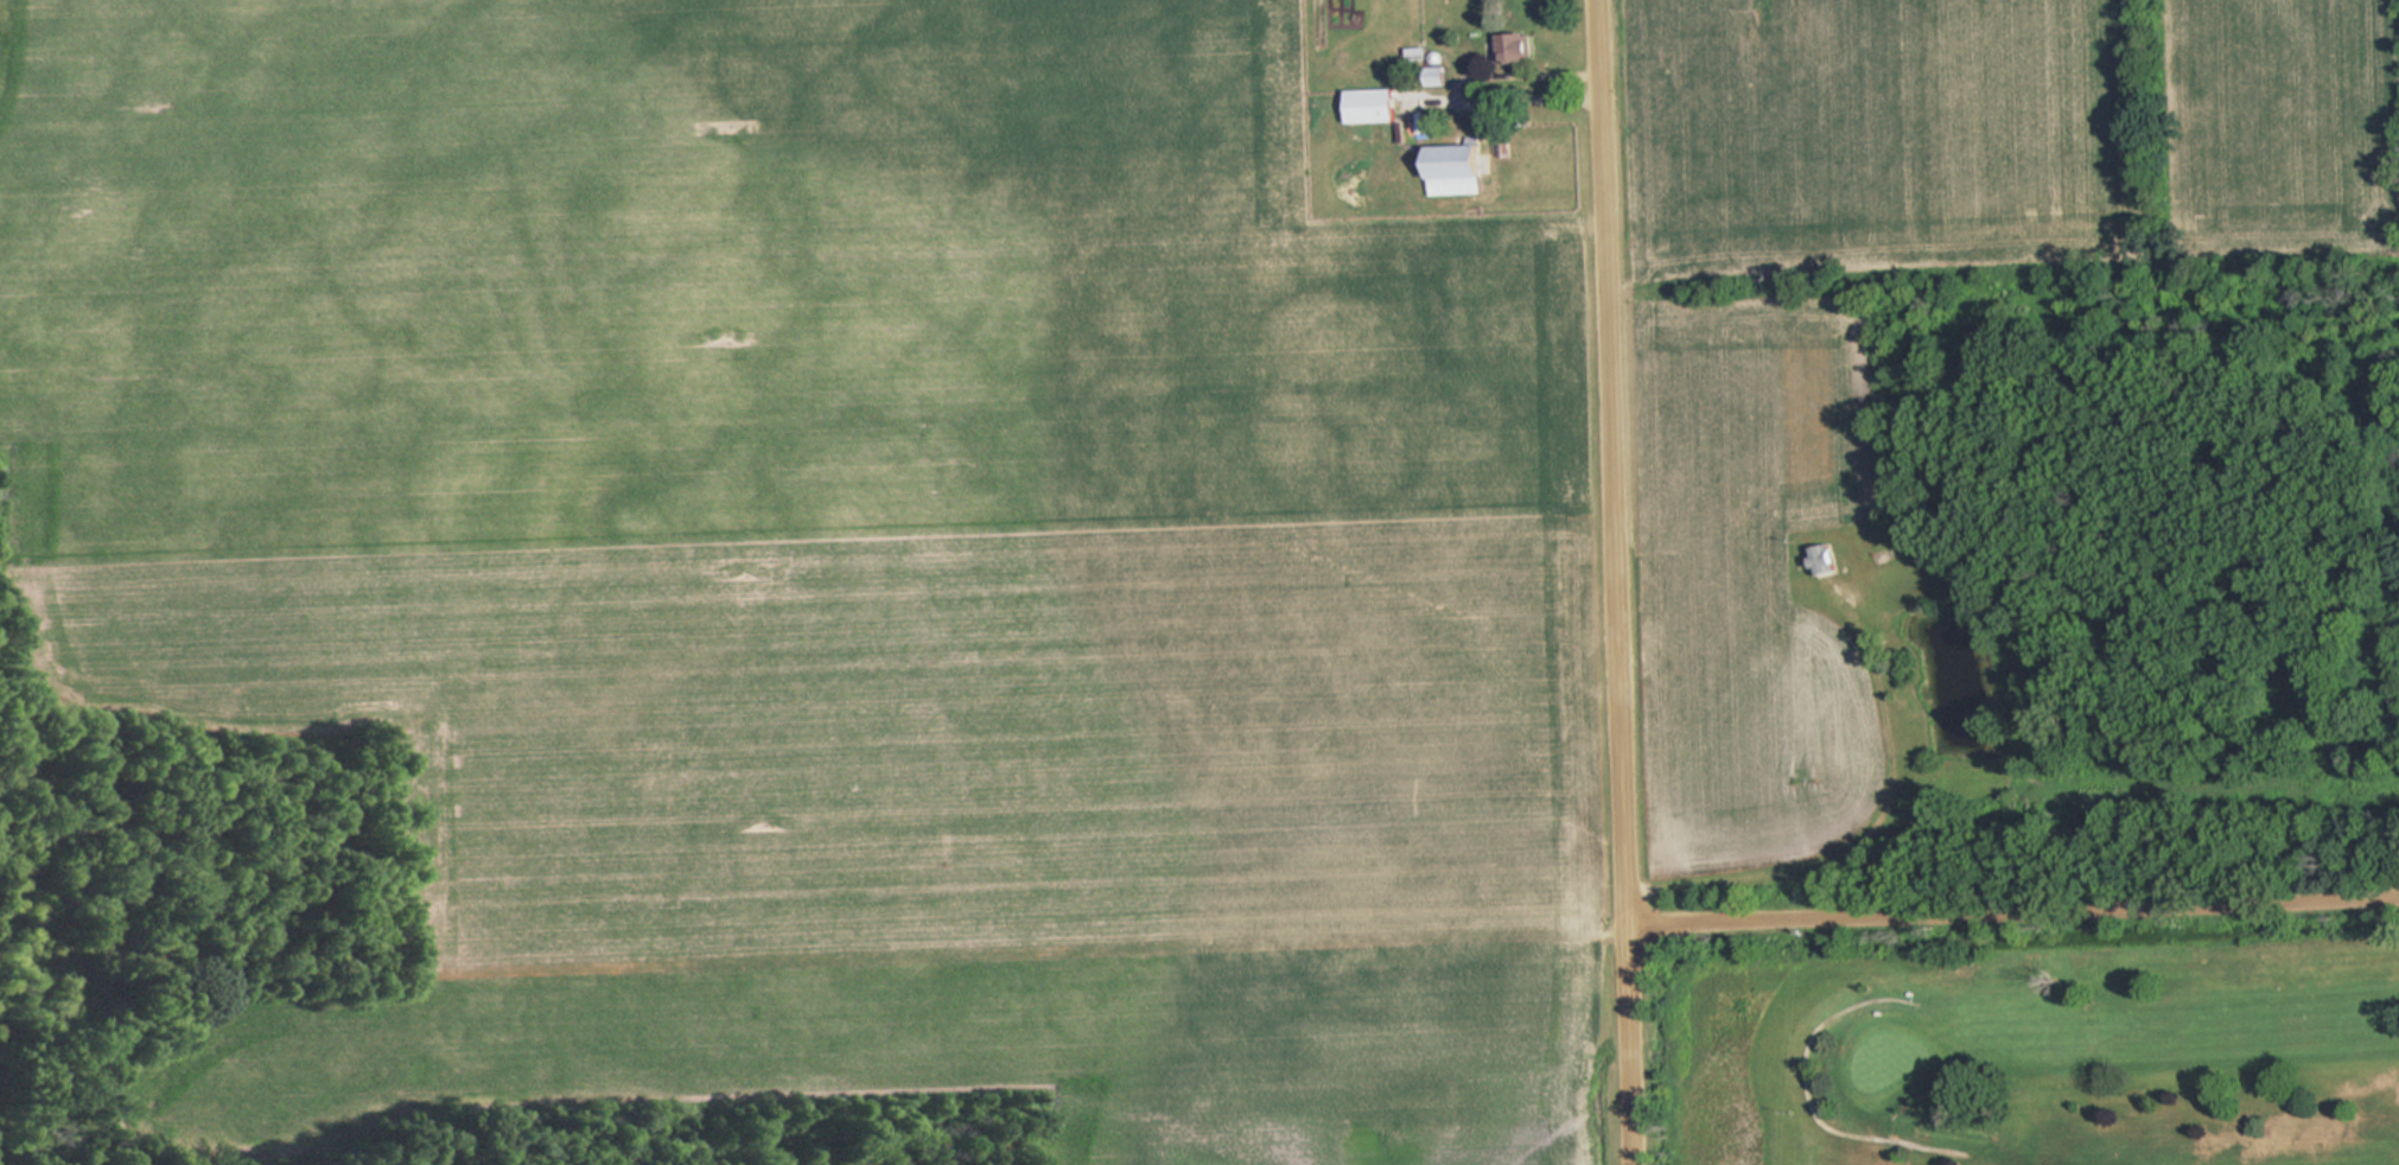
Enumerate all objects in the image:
building: (1519, 46)
building: (1427, 66)
building: (1375, 104)
building: (1459, 168)
building: (1825, 558)
road: (1623, 581)
road: (2018, 904)
park: (2044, 1049)

